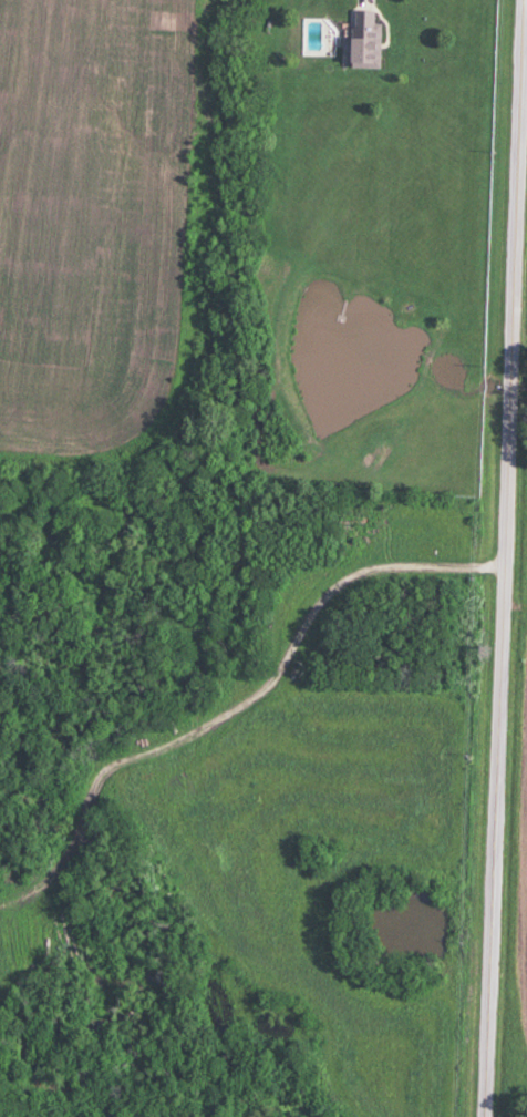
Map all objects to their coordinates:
building: (365, 38)
road: (508, 583)

